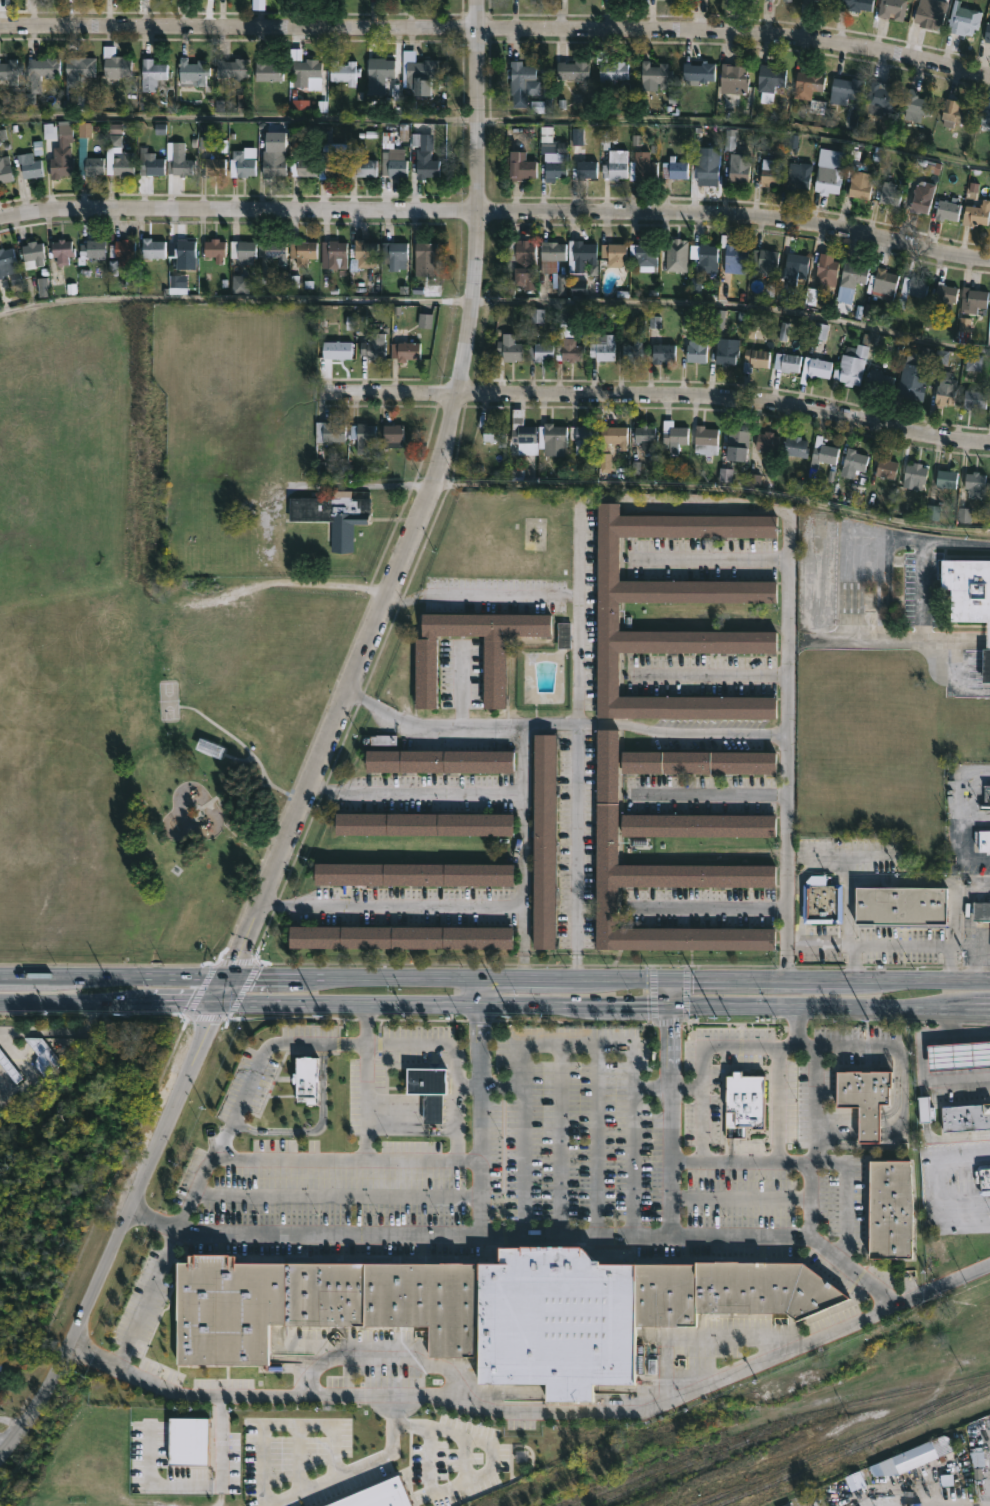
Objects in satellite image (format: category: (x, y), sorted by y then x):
building: (258, 0)
building: (745, 0)
building: (769, 0)
building: (787, 0)
building: (825, 0)
building: (808, 1)
building: (408, 4)
building: (858, 4)
building: (895, 10)
building: (929, 16)
building: (964, 22)
road: (497, 25)
building: (987, 31)
building: (115, 64)
building: (81, 66)
building: (43, 68)
building: (233, 68)
building: (302, 68)
building: (610, 68)
building: (268, 70)
building: (573, 70)
building: (10, 71)
building: (344, 71)
building: (192, 73)
building: (698, 73)
building: (151, 74)
building: (656, 74)
building: (381, 76)
building: (421, 76)
building: (771, 78)
building: (524, 79)
building: (734, 80)
building: (810, 89)
building: (846, 90)
building: (883, 97)
building: (917, 106)
building: (954, 112)
building: (986, 113)
road: (497, 123)
building: (82, 147)
building: (61, 155)
building: (331, 155)
building: (118, 157)
building: (556, 161)
building: (734, 161)
building: (150, 162)
building: (274, 162)
building: (395, 162)
building: (242, 163)
building: (179, 164)
building: (426, 164)
building: (616, 164)
building: (29, 165)
building: (707, 165)
building: (214, 166)
building: (366, 166)
building: (521, 166)
building: (303, 167)
building: (642, 167)
building: (586, 168)
building: (674, 168)
building: (4, 169)
building: (772, 172)
building: (799, 176)
building: (829, 179)
building: (860, 184)
building: (891, 193)
building: (921, 197)
building: (948, 208)
road: (496, 210)
building: (979, 212)
building: (153, 247)
building: (185, 247)
building: (272, 248)
building: (215, 249)
building: (242, 249)
building: (61, 250)
building: (90, 250)
building: (425, 250)
building: (302, 251)
building: (734, 251)
building: (32, 253)
building: (123, 253)
building: (584, 253)
building: (676, 253)
building: (337, 254)
building: (394, 254)
building: (551, 254)
building: (615, 254)
building: (364, 255)
building: (644, 255)
building: (705, 256)
building: (765, 259)
building: (524, 262)
building: (9, 265)
building: (797, 267)
building: (827, 271)
building: (853, 273)
building: (884, 283)
building: (915, 286)
building: (945, 295)
building: (972, 299)
road: (496, 303)
building: (693, 340)
building: (374, 341)
building: (603, 348)
building: (337, 349)
building: (727, 349)
building: (405, 350)
building: (509, 350)
building: (541, 350)
building: (572, 351)
building: (634, 351)
building: (663, 352)
building: (756, 358)
building: (788, 362)
building: (852, 364)
building: (815, 368)
building: (881, 379)
building: (912, 383)
building: (946, 388)
building: (975, 399)
road: (658, 401)
building: (329, 431)
building: (495, 432)
building: (363, 435)
building: (390, 435)
building: (614, 435)
building: (524, 436)
building: (583, 436)
building: (647, 436)
building: (674, 436)
building: (552, 438)
building: (706, 439)
building: (767, 442)
building: (737, 443)
building: (796, 446)
building: (823, 451)
building: (854, 462)
building: (887, 467)
building: (916, 474)
building: (947, 478)
building: (976, 484)
road: (713, 496)
building: (934, 513)
building: (332, 516)
road: (580, 555)
building: (966, 589)
road: (543, 593)
building: (608, 616)
building: (563, 634)
road: (899, 639)
park: (132, 664)
building: (987, 669)
building: (426, 673)
road: (712, 674)
road: (460, 682)
road: (787, 692)
road: (361, 696)
park: (166, 699)
road: (471, 722)
road: (679, 733)
building: (209, 746)
building: (236, 750)
road: (321, 752)
building: (439, 761)
building: (699, 762)
road: (574, 771)
road: (322, 786)
road: (460, 789)
road: (709, 791)
building: (985, 798)
road: (957, 819)
road: (973, 822)
building: (423, 824)
building: (699, 826)
building: (982, 840)
building: (544, 841)
road: (842, 855)
road: (848, 867)
building: (414, 874)
building: (658, 879)
road: (901, 880)
road: (572, 884)
road: (276, 900)
building: (821, 901)
road: (463, 903)
road: (710, 904)
building: (900, 904)
building: (984, 915)
road: (520, 927)
road: (969, 928)
building: (399, 938)
road: (817, 944)
road: (900, 946)
road: (571, 963)
road: (235, 964)
road: (521, 965)
traffic signals: (669, 977)
road: (495, 978)
road: (669, 988)
road: (201, 989)
road: (242, 989)
traffic signals: (669, 1000)
road: (493, 1001)
road: (988, 1007)
road: (94, 1013)
power tower: (123, 1015)
road: (208, 1015)
power tower: (321, 1015)
road: (832, 1017)
road: (441, 1019)
power tower: (866, 1020)
road: (668, 1021)
road: (59, 1027)
road: (972, 1034)
road: (575, 1043)
road: (718, 1045)
road: (900, 1054)
building: (958, 1054)
gas station: (958, 1054)
building: (42, 1055)
road: (262, 1058)
road: (921, 1060)
building: (9, 1066)
road: (26, 1066)
building: (305, 1078)
road: (367, 1079)
road: (490, 1085)
road: (458, 1086)
road: (3, 1087)
building: (428, 1089)
road: (3, 1094)
building: (863, 1098)
building: (743, 1102)
road: (776, 1103)
road: (481, 1106)
building: (924, 1109)
road: (670, 1116)
building: (965, 1116)
road: (700, 1124)
road: (838, 1125)
road: (868, 1125)
road: (317, 1127)
road: (560, 1138)
road: (593, 1138)
road: (307, 1158)
road: (811, 1159)
road: (779, 1162)
building: (982, 1178)
road: (945, 1185)
road: (337, 1194)
road: (741, 1198)
building: (891, 1208)
road: (520, 1233)
building: (763, 1287)
road: (147, 1298)
building: (317, 1302)
building: (572, 1315)
road: (377, 1352)
railway: (882, 1395)
railway: (949, 1397)
road: (537, 1409)
railway: (899, 1426)
building: (187, 1440)
railway: (852, 1448)
building: (915, 1455)
railway: (701, 1457)
railway: (669, 1461)
railway: (788, 1465)
railway: (628, 1469)
road: (457, 1480)
road: (197, 1486)
building: (379, 1495)
road: (262, 1499)
road: (929, 1505)

